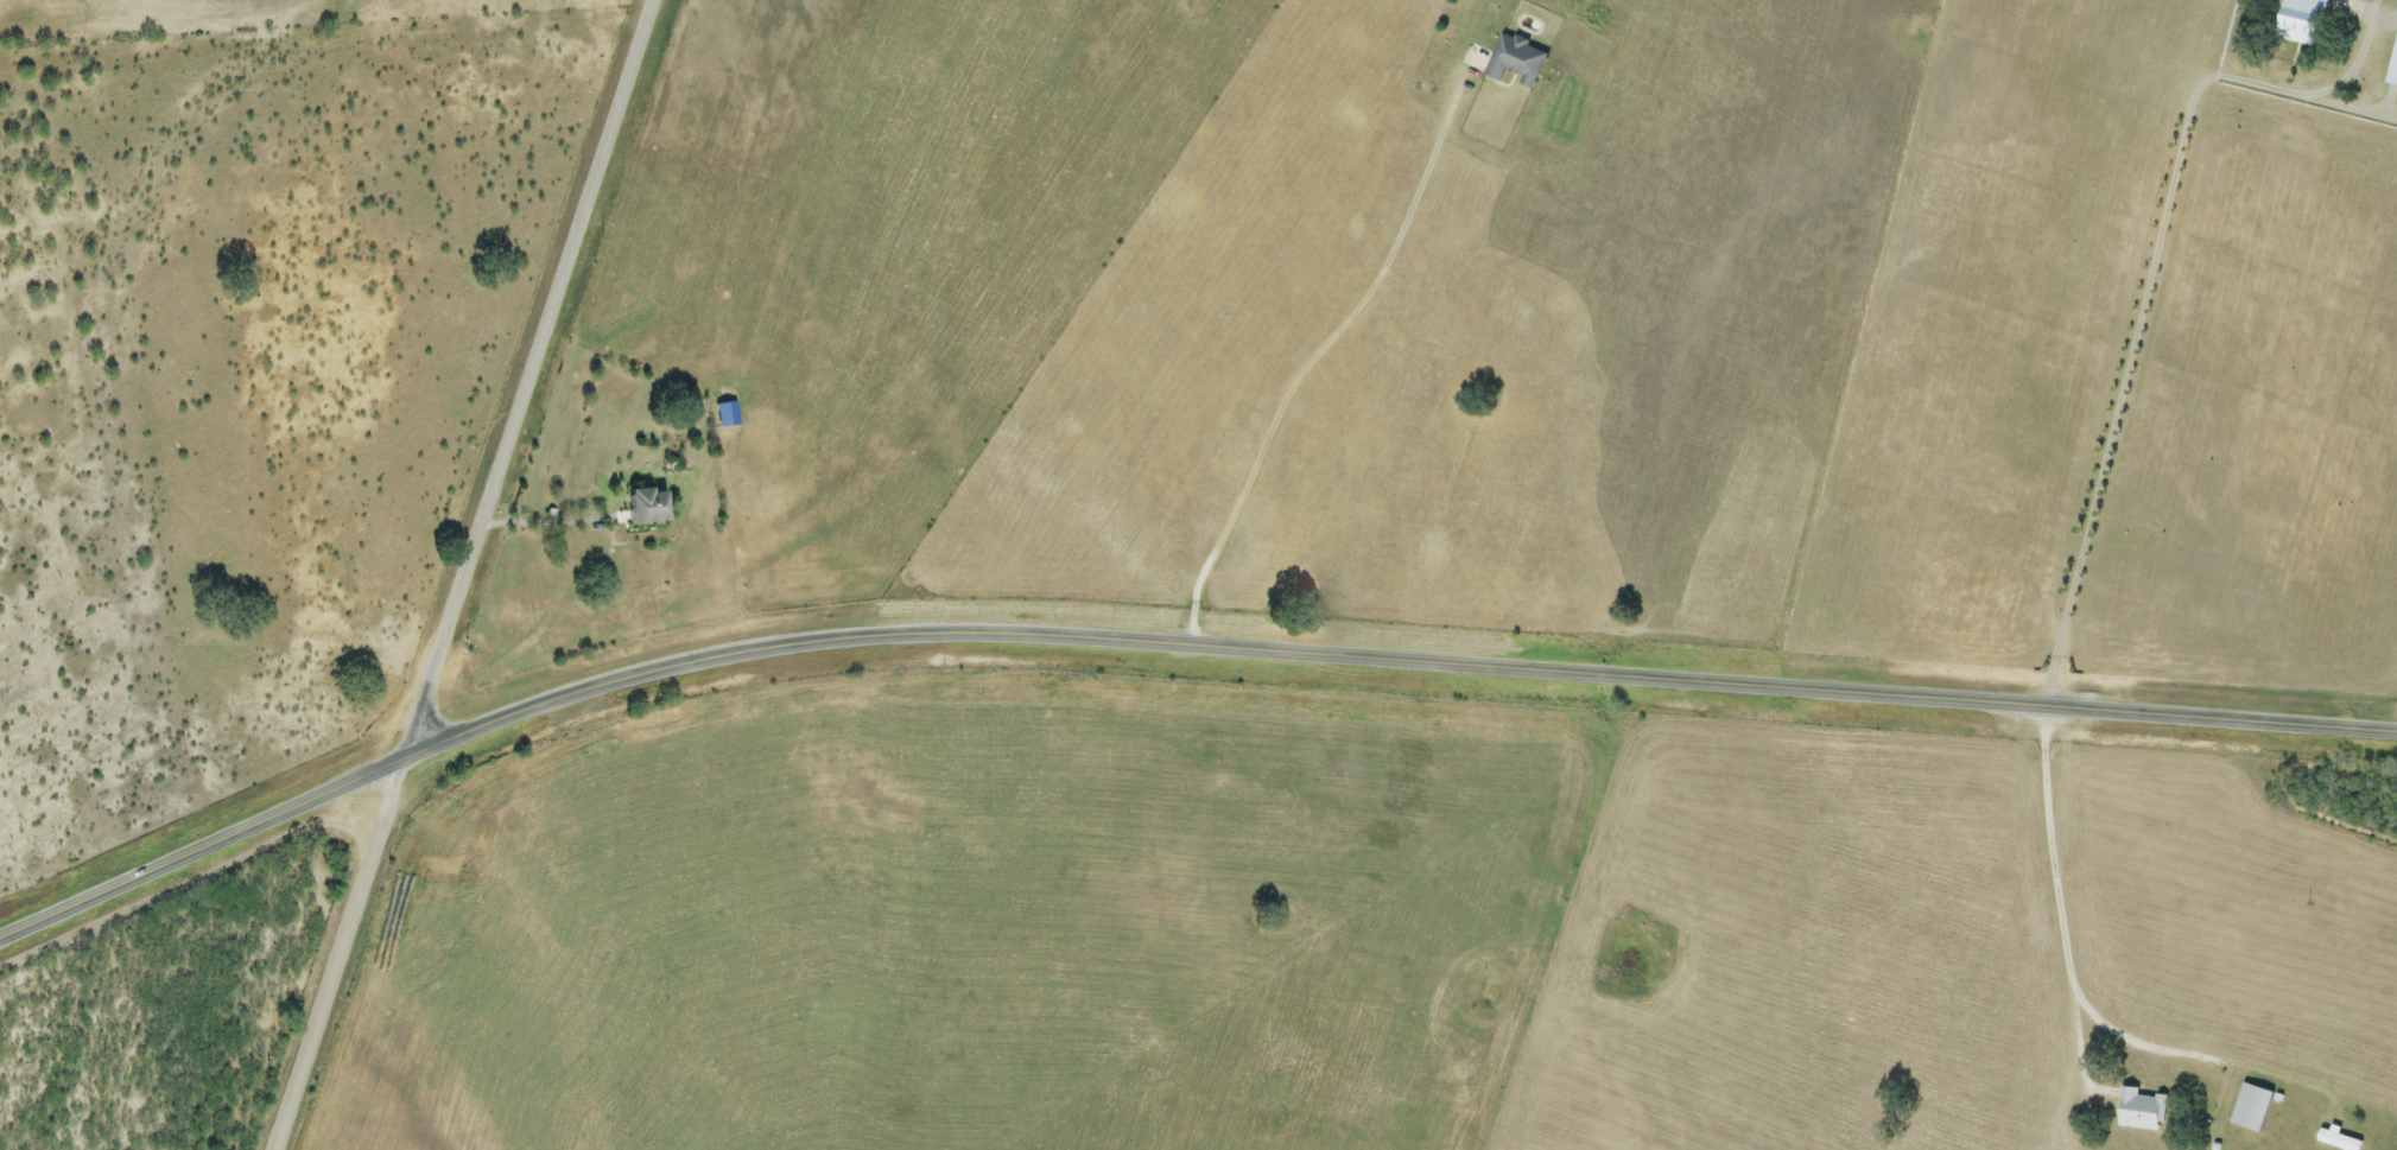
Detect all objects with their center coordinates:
building: (2302, 20)
building: (1516, 58)
building: (2393, 72)
road: (2138, 324)
road: (1321, 348)
building: (727, 413)
building: (645, 504)
road: (545, 519)
road: (459, 577)
road: (1171, 642)
road: (2062, 922)
building: (2253, 1106)
building: (2142, 1110)
building: (2339, 1139)

